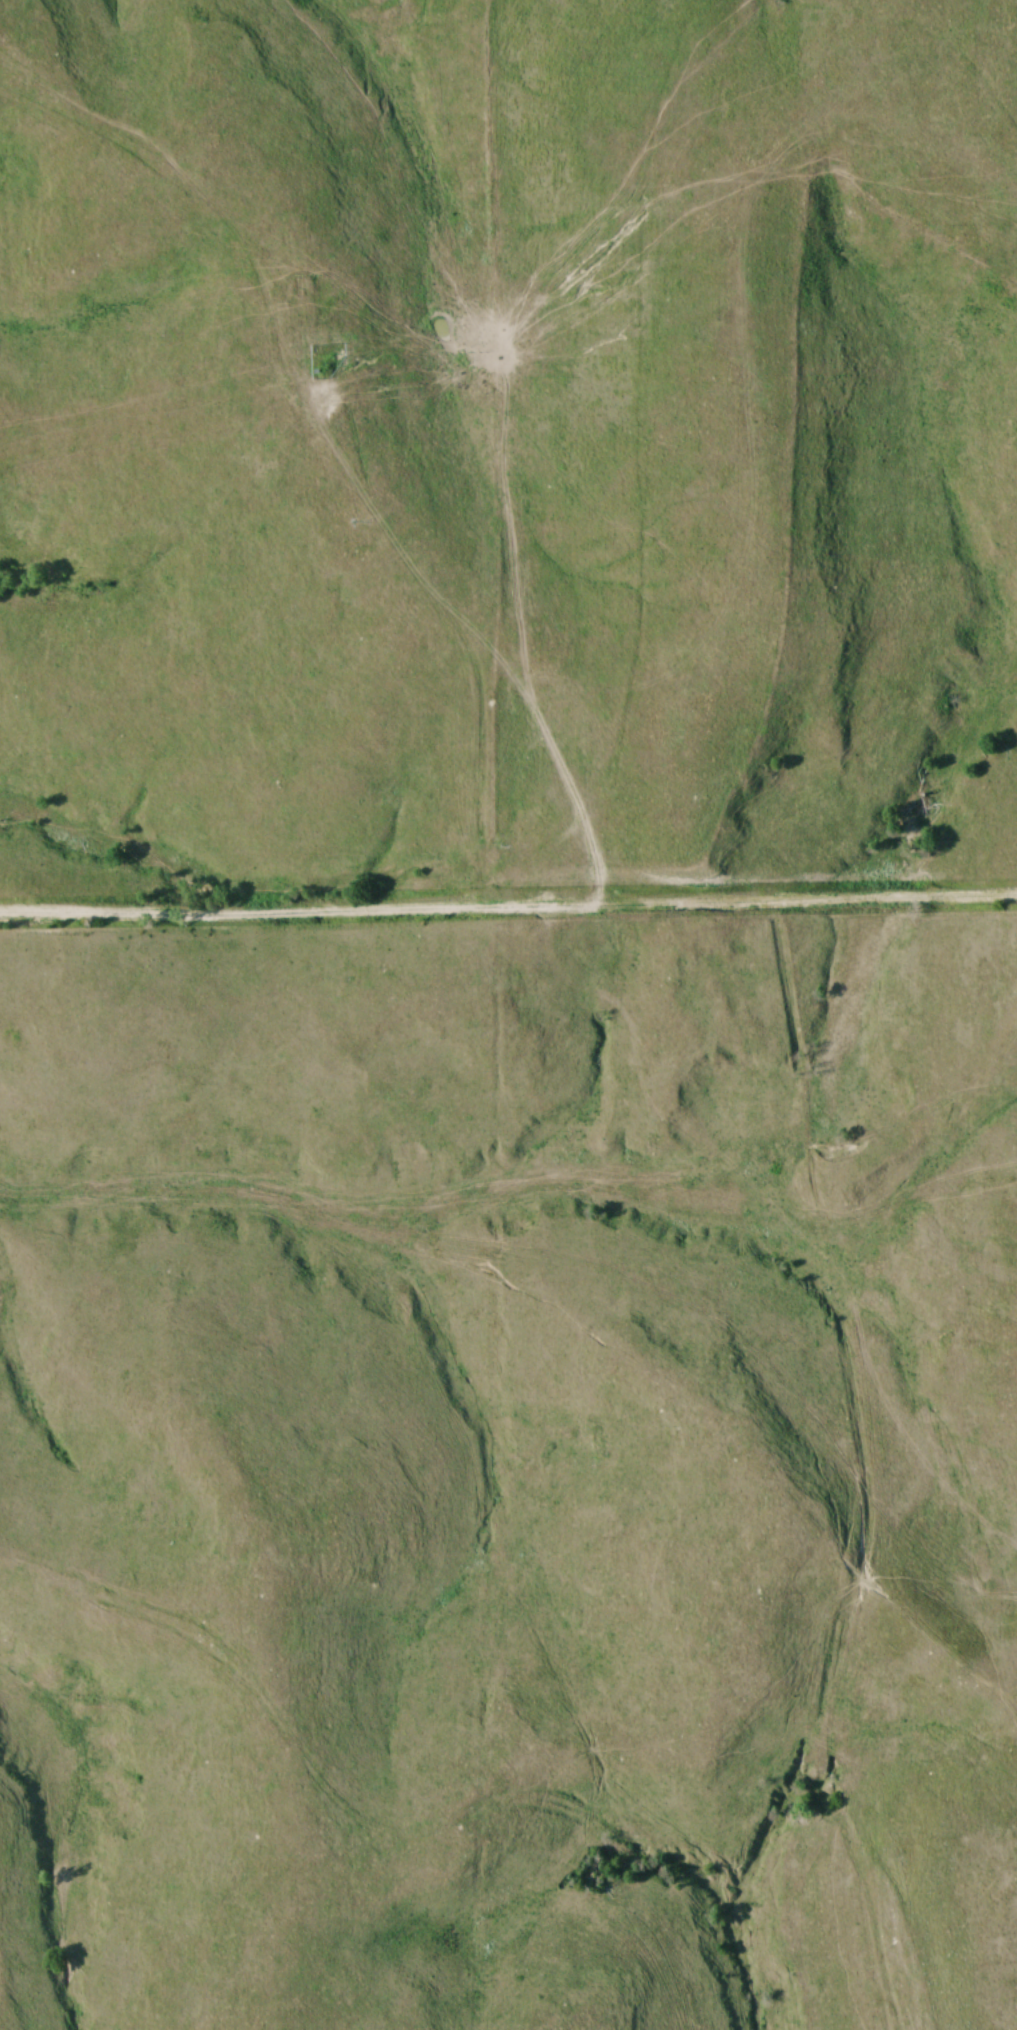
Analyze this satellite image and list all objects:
road: (508, 904)

